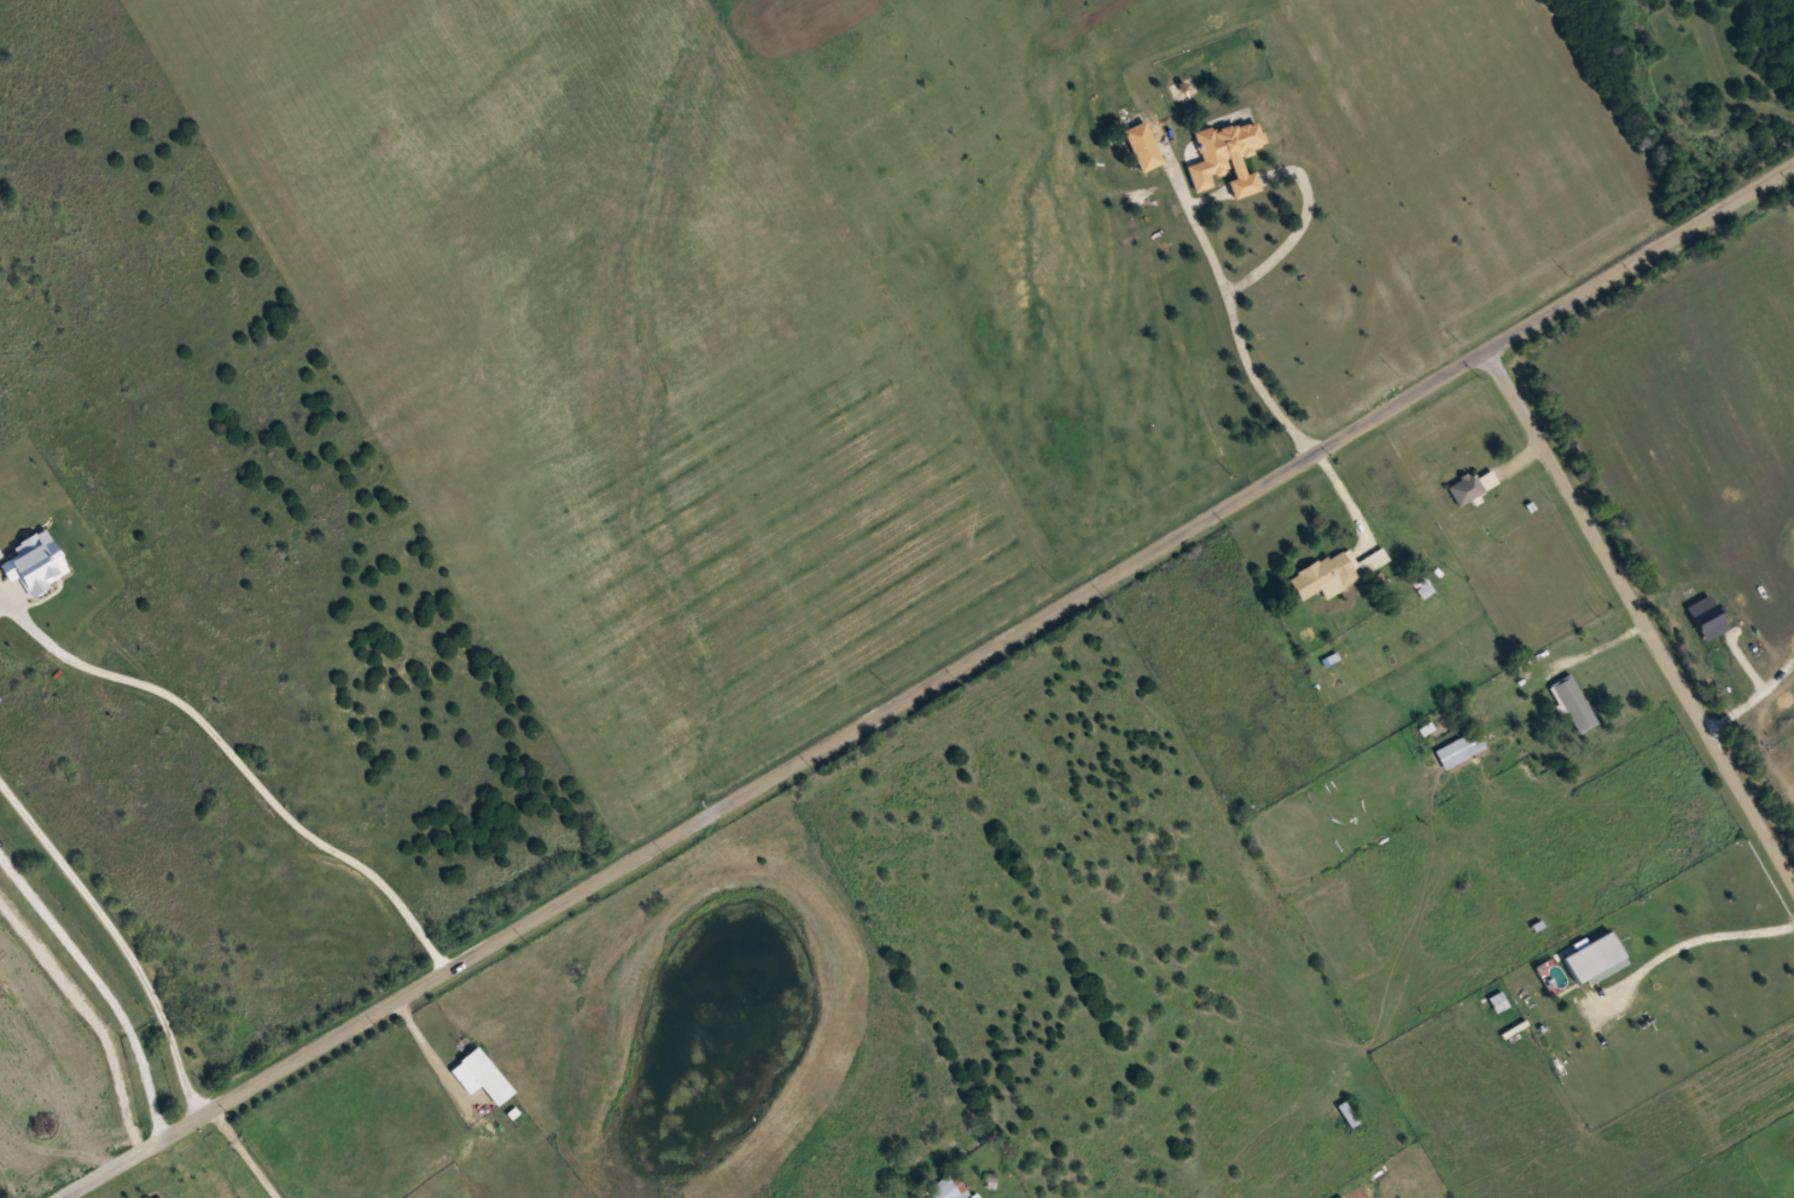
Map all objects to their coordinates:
building: (1142, 146)
building: (1225, 156)
building: (1371, 561)
building: (1322, 577)
building: (1379, 582)
building: (1420, 584)
road: (1638, 620)
road: (931, 686)
building: (1572, 703)
building: (1458, 749)
building: (1591, 958)
building: (480, 1070)
building: (1346, 1114)
building: (946, 1187)
building: (157, 1197)

